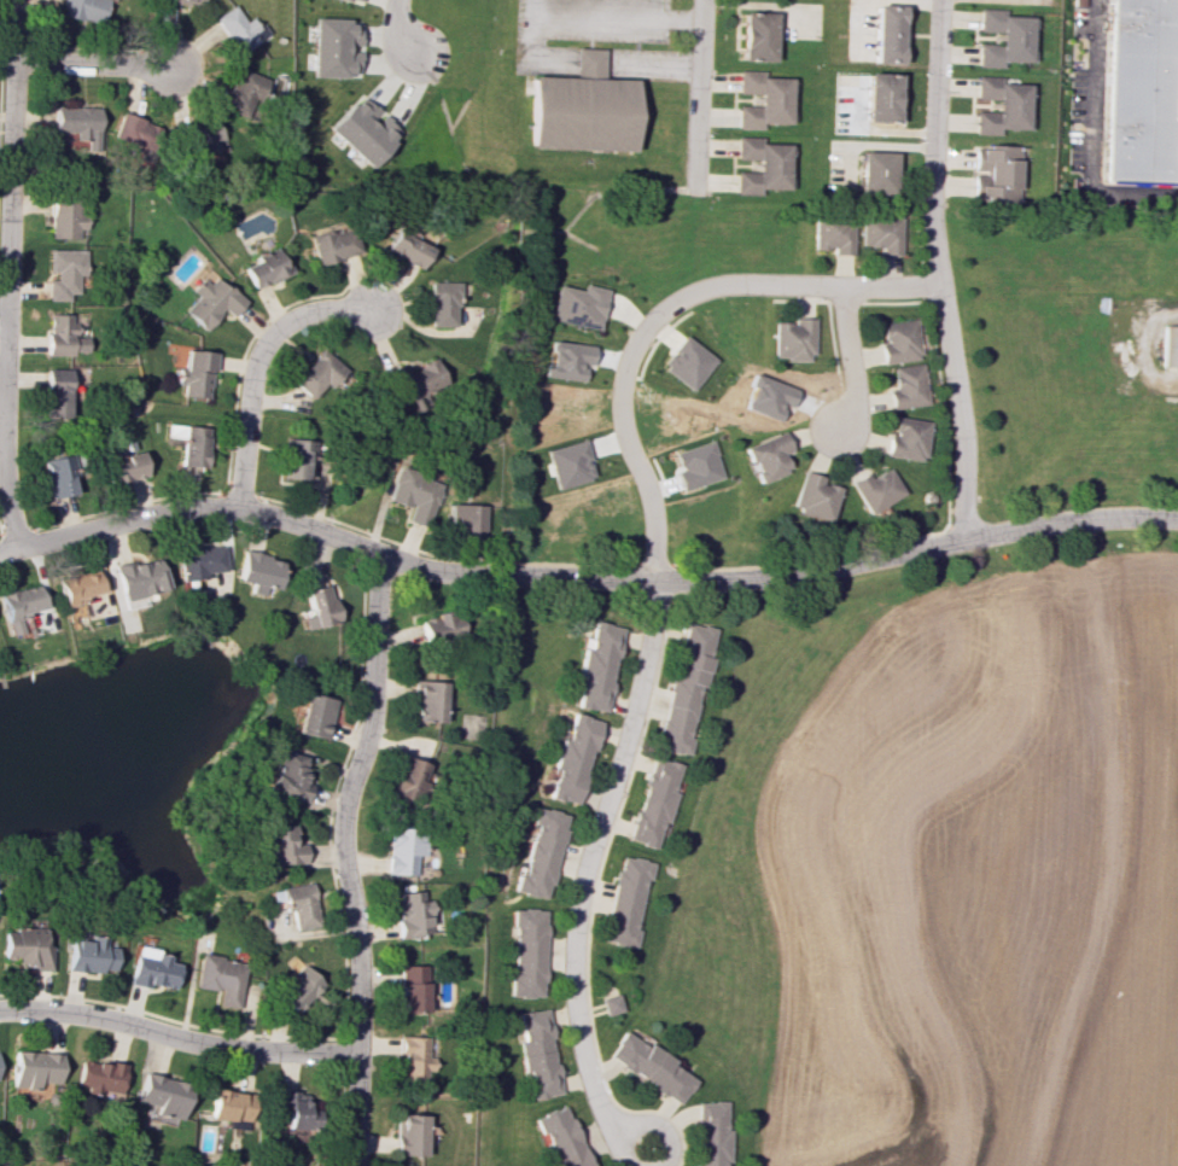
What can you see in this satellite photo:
building: (356, 0)
building: (185, 1)
building: (1078, 1)
building: (82, 8)
road: (610, 19)
parking lot: (582, 22)
road: (401, 27)
building: (238, 29)
building: (886, 34)
building: (756, 36)
building: (1003, 37)
building: (334, 47)
parking lot: (648, 57)
road: (91, 65)
road: (588, 65)
building: (1144, 89)
building: (241, 93)
road: (695, 97)
building: (879, 97)
building: (763, 99)
building: (1001, 105)
building: (581, 113)
building: (75, 123)
building: (365, 130)
building: (133, 134)
road: (1094, 135)
building: (197, 139)
building: (762, 165)
building: (876, 171)
building: (996, 171)
building: (62, 215)
building: (881, 233)
building: (833, 235)
building: (334, 244)
building: (407, 249)
building: (266, 267)
road: (938, 269)
building: (63, 273)
road: (2, 274)
building: (211, 301)
road: (1, 302)
building: (442, 303)
building: (577, 305)
building: (60, 336)
building: (792, 339)
building: (898, 342)
building: (1168, 345)
road: (848, 358)
building: (566, 360)
building: (687, 362)
road: (253, 366)
building: (196, 373)
building: (319, 374)
building: (412, 380)
building: (906, 386)
building: (56, 392)
building: (782, 395)
building: (905, 438)
building: (766, 456)
building: (293, 459)
building: (567, 464)
building: (696, 465)
building: (123, 467)
building: (58, 474)
building: (874, 489)
building: (413, 494)
building: (812, 496)
building: (463, 517)
building: (197, 561)
building: (257, 571)
road: (583, 578)
building: (136, 579)
road: (655, 584)
building: (76, 587)
building: (18, 606)
building: (315, 606)
building: (438, 626)
building: (596, 666)
building: (684, 688)
building: (427, 700)
building: (311, 716)
building: (571, 759)
building: (286, 776)
building: (408, 777)
building: (654, 801)
road: (343, 803)
building: (279, 845)
building: (402, 850)
building: (540, 853)
crop: (982, 881)
building: (625, 899)
building: (296, 903)
building: (412, 914)
building: (24, 948)
building: (527, 952)
building: (91, 955)
building: (152, 968)
building: (220, 978)
building: (413, 987)
building: (299, 990)
building: (611, 1004)
road: (177, 1038)
building: (538, 1054)
building: (414, 1059)
building: (651, 1066)
building: (35, 1068)
building: (100, 1077)
building: (164, 1095)
building: (231, 1107)
building: (293, 1109)
road: (355, 1110)
road: (647, 1120)
building: (712, 1133)
building: (412, 1135)
building: (564, 1137)

